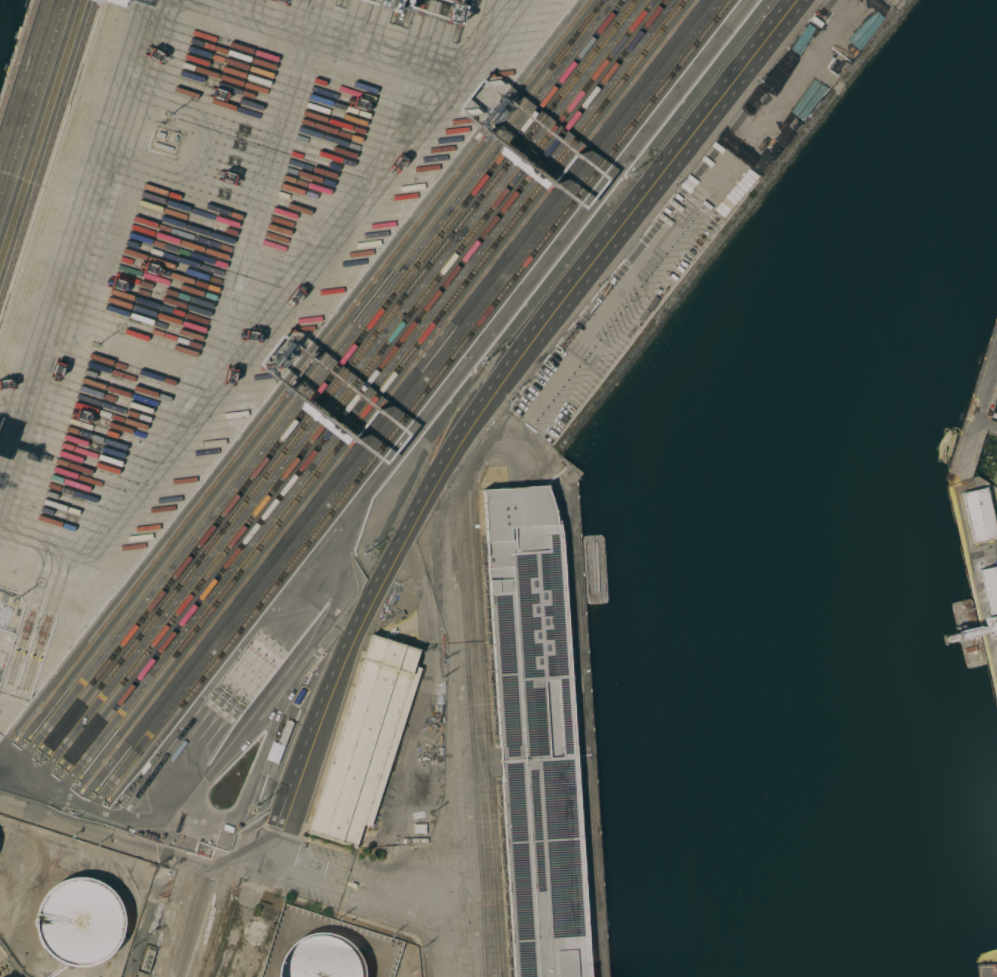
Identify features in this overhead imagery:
building: (98, 40)
building: (63, 165)
road: (650, 240)
building: (36, 251)
road: (611, 293)
railway: (314, 368)
railway: (330, 373)
railway: (339, 376)
railway: (355, 380)
railway: (365, 383)
railway: (381, 388)
railway: (402, 394)
railway: (417, 399)
road: (487, 402)
building: (988, 413)
pier: (977, 418)
building: (978, 445)
building: (979, 514)
building: (991, 595)
road: (427, 678)
road: (451, 721)
building: (537, 733)
building: (367, 742)
road: (135, 840)
road: (363, 887)
building: (87, 924)
storage tank: (87, 924)
building: (329, 959)
storage tank: (329, 959)
pier: (986, 970)

